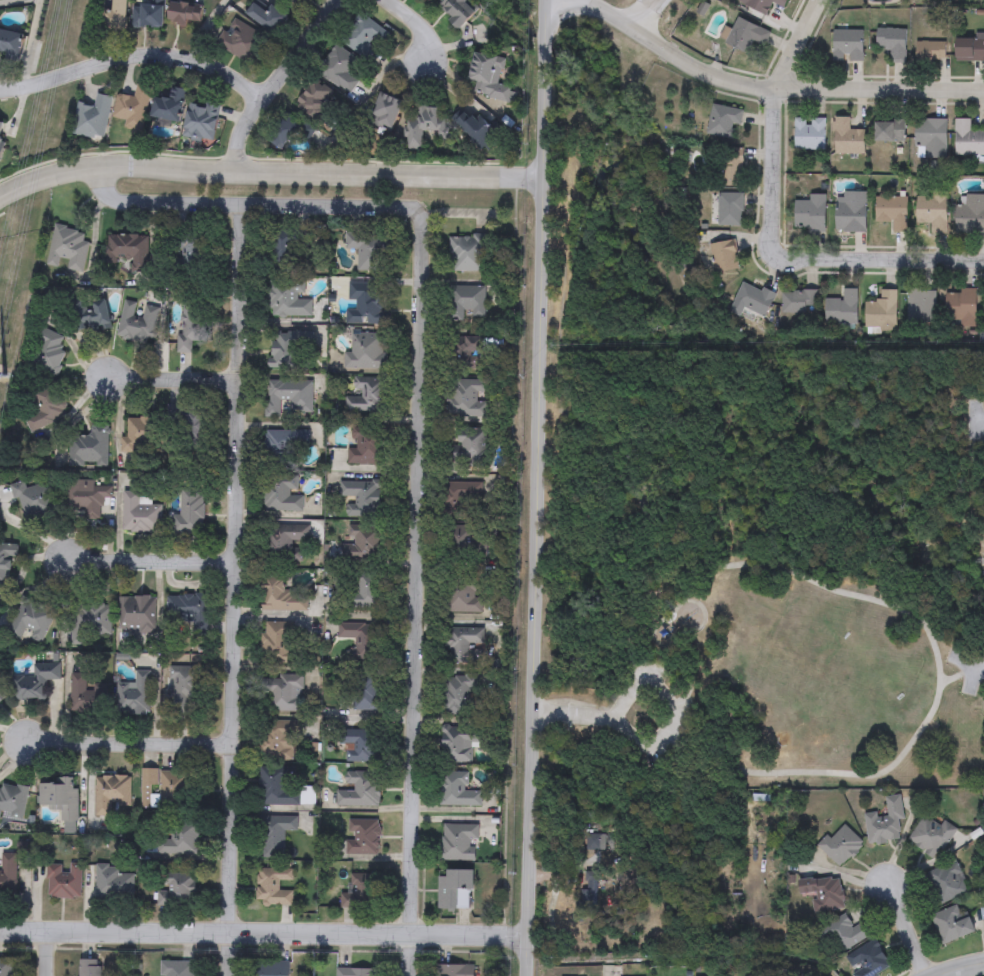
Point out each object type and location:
building: (426, 0)
building: (761, 4)
building: (184, 11)
building: (458, 11)
building: (148, 14)
road: (648, 14)
building: (116, 15)
building: (268, 18)
road: (414, 19)
road: (207, 32)
building: (743, 35)
building: (362, 39)
road: (31, 41)
building: (11, 43)
building: (892, 43)
building: (848, 45)
building: (970, 49)
building: (930, 52)
road: (143, 57)
building: (336, 66)
road: (274, 78)
building: (489, 78)
road: (10, 83)
road: (769, 85)
building: (312, 100)
building: (170, 105)
building: (134, 108)
building: (385, 112)
building: (93, 116)
building: (723, 120)
building: (425, 126)
building: (475, 128)
road: (776, 129)
building: (889, 132)
building: (283, 133)
building: (809, 133)
building: (847, 137)
building: (931, 138)
building: (968, 138)
road: (271, 165)
building: (731, 166)
road: (271, 205)
building: (730, 208)
building: (931, 210)
building: (851, 211)
building: (892, 211)
building: (809, 212)
building: (971, 213)
road: (481, 214)
building: (368, 255)
building: (468, 255)
building: (286, 256)
building: (724, 256)
road: (886, 259)
building: (753, 298)
building: (289, 300)
building: (799, 301)
building: (367, 304)
building: (466, 304)
building: (920, 307)
building: (842, 308)
building: (961, 308)
building: (881, 311)
building: (290, 351)
building: (366, 352)
power tower: (4, 378)
road: (171, 378)
road: (560, 382)
building: (290, 398)
building: (369, 399)
building: (467, 402)
building: (285, 444)
building: (366, 448)
building: (469, 449)
road: (540, 488)
building: (283, 494)
building: (362, 498)
building: (460, 499)
park: (745, 520)
building: (460, 542)
building: (284, 543)
building: (365, 544)
road: (514, 554)
road: (152, 560)
road: (234, 590)
building: (364, 591)
road: (690, 591)
road: (659, 592)
road: (416, 594)
building: (280, 596)
building: (462, 598)
road: (663, 606)
road: (923, 609)
road: (657, 637)
building: (278, 640)
building: (362, 640)
building: (462, 645)
park: (876, 656)
parking lot: (968, 659)
road: (670, 665)
road: (956, 669)
building: (186, 692)
building: (283, 694)
building: (367, 694)
building: (135, 695)
building: (455, 696)
parking lot: (683, 707)
park: (810, 712)
road: (588, 715)
building: (277, 743)
building: (460, 743)
road: (131, 746)
building: (361, 746)
building: (276, 789)
building: (359, 789)
building: (163, 790)
building: (457, 790)
building: (885, 821)
building: (275, 835)
building: (931, 835)
building: (180, 838)
building: (363, 838)
building: (459, 842)
building: (840, 845)
building: (947, 881)
building: (273, 886)
building: (452, 887)
building: (176, 890)
building: (361, 891)
building: (823, 892)
building: (951, 923)
road: (906, 928)
road: (264, 932)
building: (843, 933)
road: (49, 953)
building: (867, 960)
building: (271, 968)
road: (962, 968)
building: (178, 969)
building: (454, 970)
building: (356, 972)

